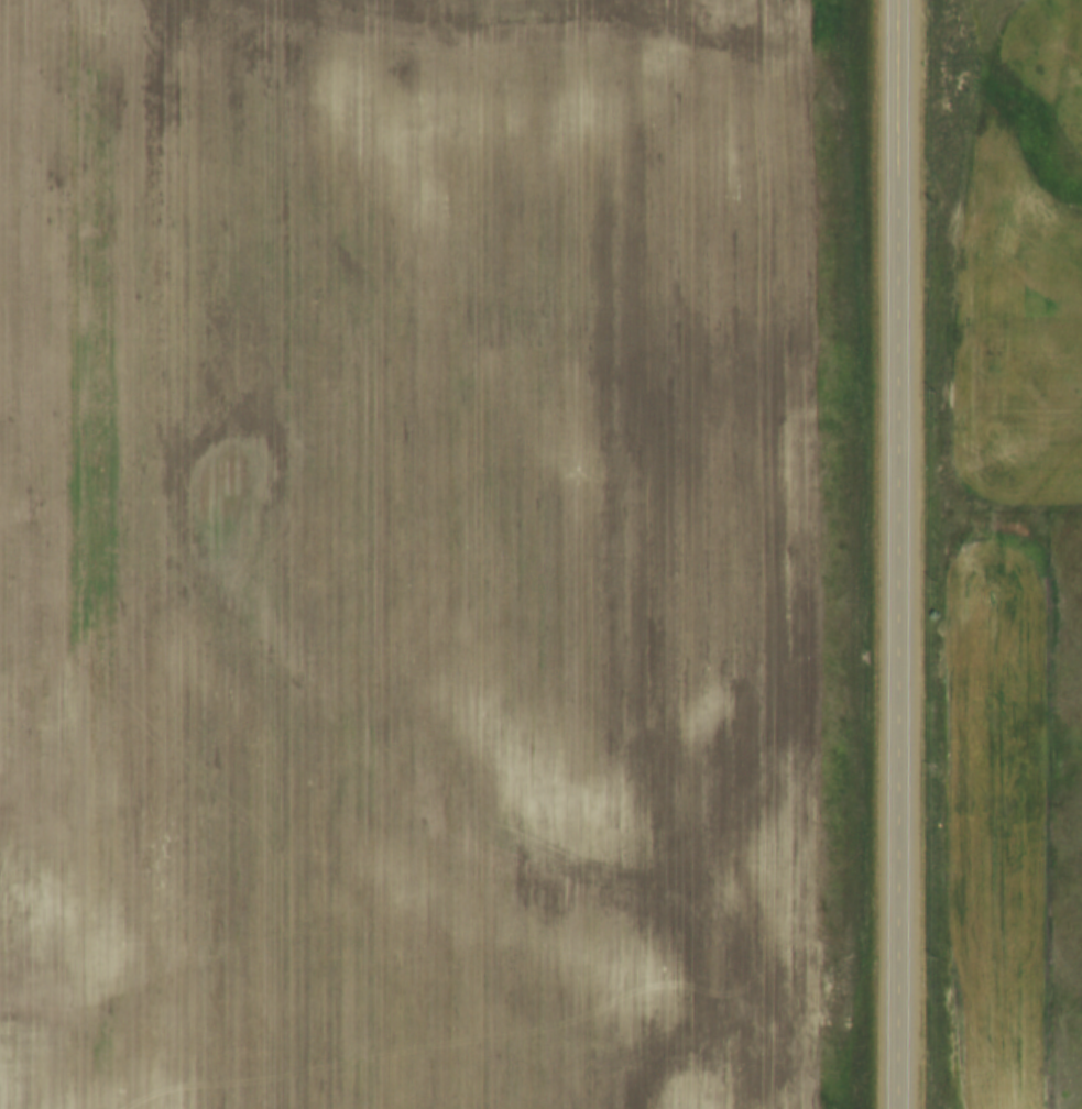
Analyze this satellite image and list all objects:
road: (899, 554)

